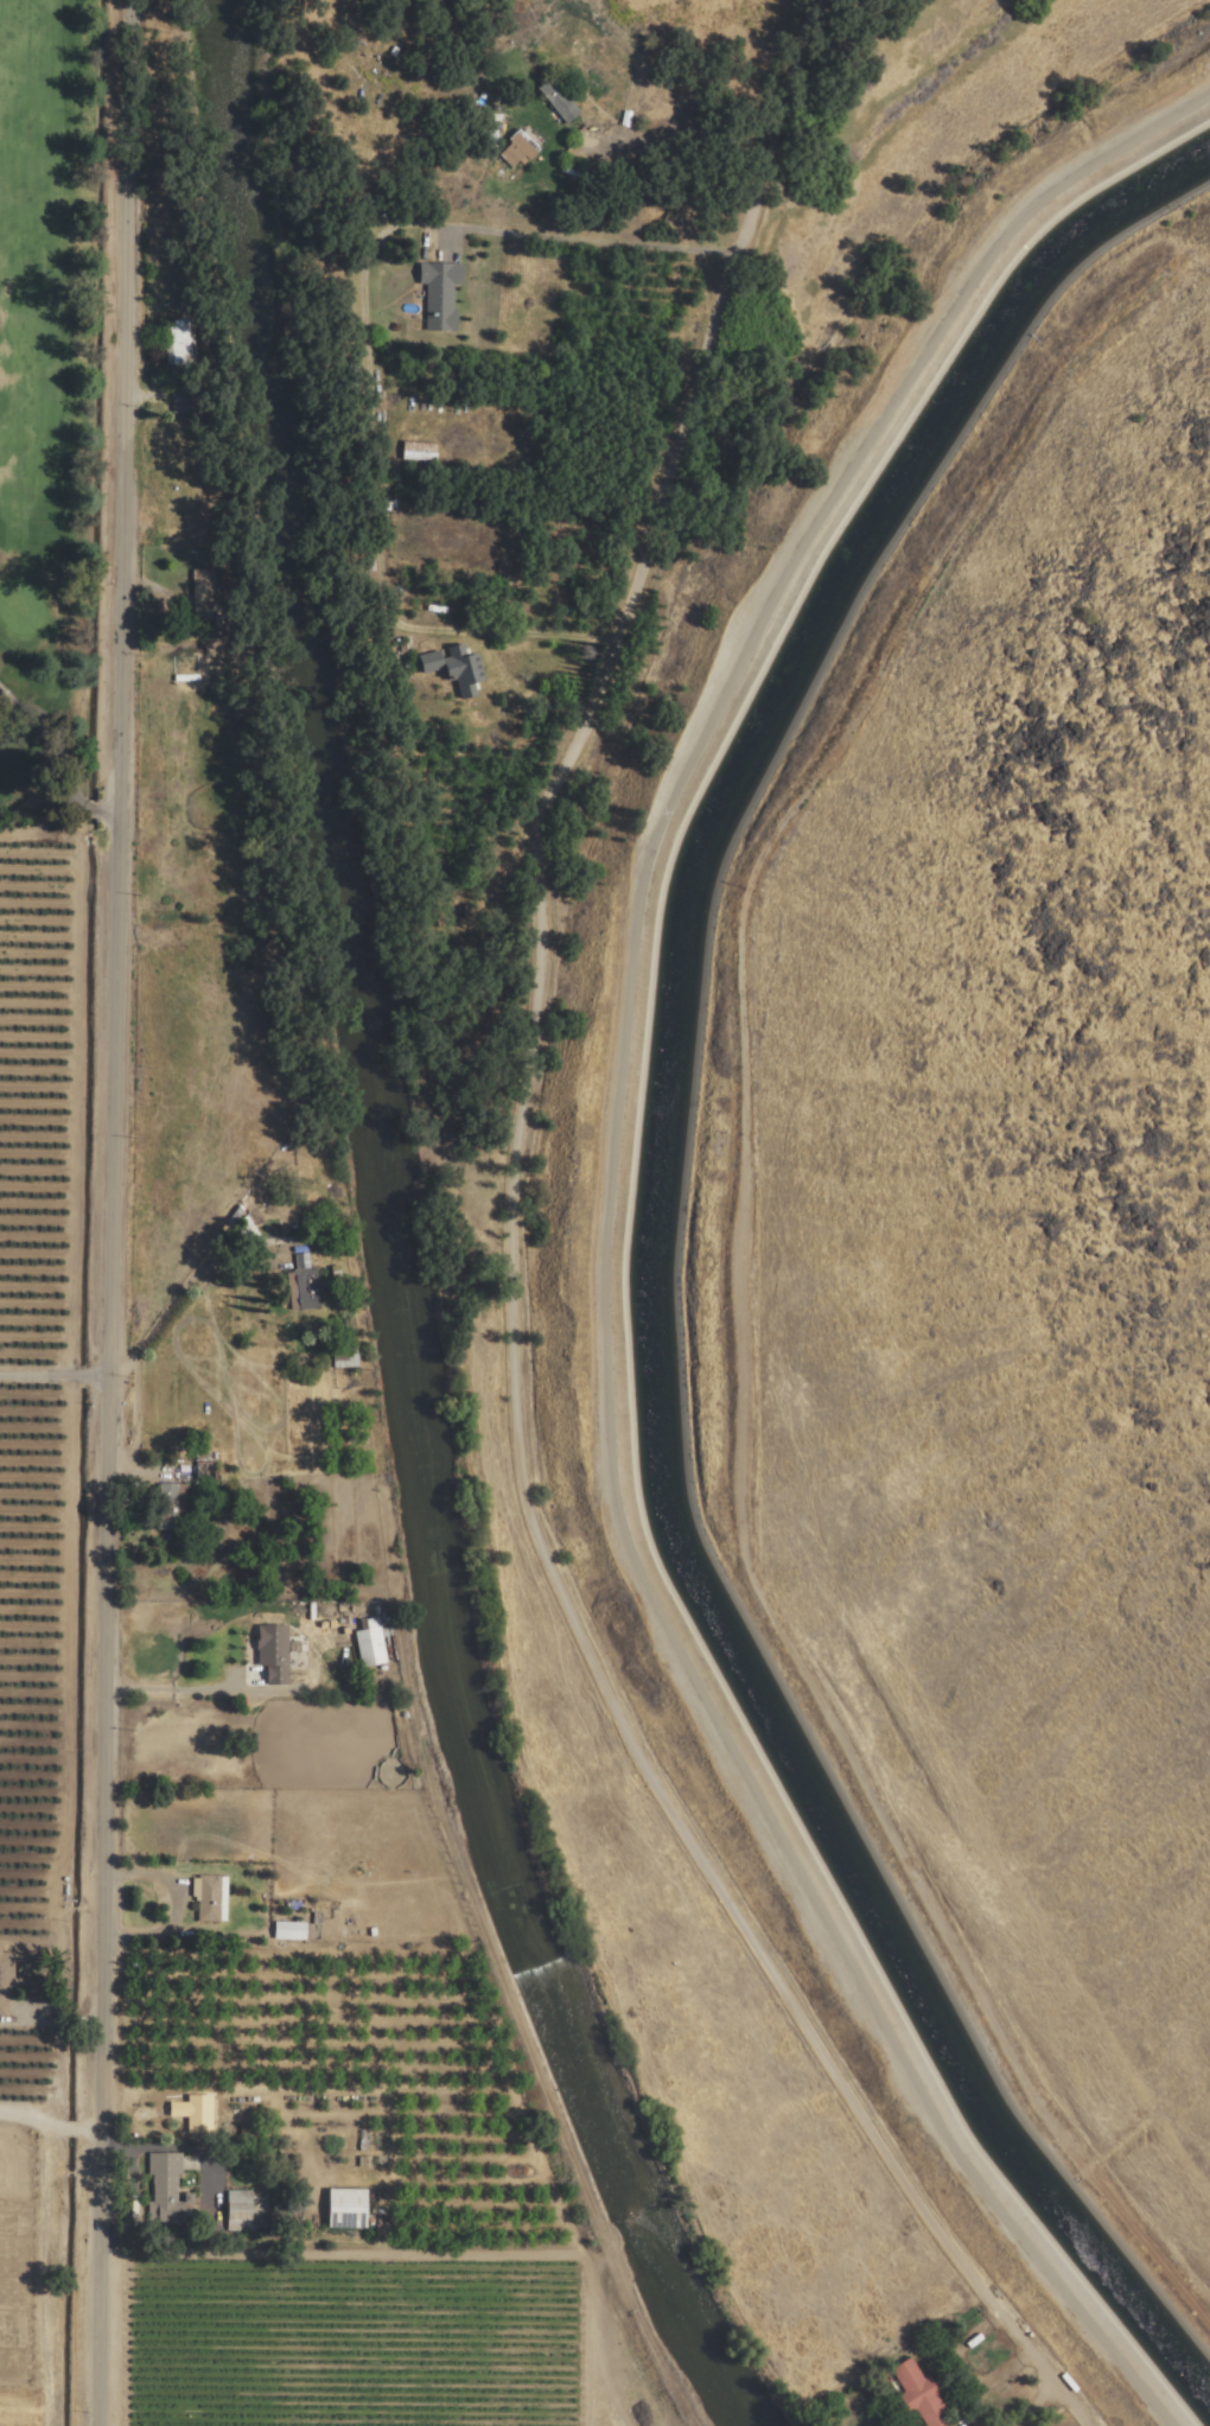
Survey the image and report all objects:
building: (559, 98)
road: (677, 144)
building: (516, 148)
road: (757, 176)
road: (597, 240)
building: (439, 294)
building: (180, 340)
building: (181, 397)
park: (69, 405)
road: (364, 434)
building: (418, 451)
building: (202, 591)
road: (547, 635)
building: (450, 667)
road: (53, 765)
road: (109, 772)
building: (306, 1290)
road: (177, 1292)
building: (343, 1355)
road: (52, 1375)
road: (511, 1453)
building: (171, 1501)
building: (368, 1643)
building: (273, 1654)
road: (179, 1690)
building: (288, 1930)
building: (6, 1980)
road: (104, 1985)
road: (26, 2120)
road: (65, 2128)
road: (93, 2128)
building: (166, 2191)
building: (346, 2208)
building: (238, 2209)
road: (43, 2280)
building: (921, 2395)

